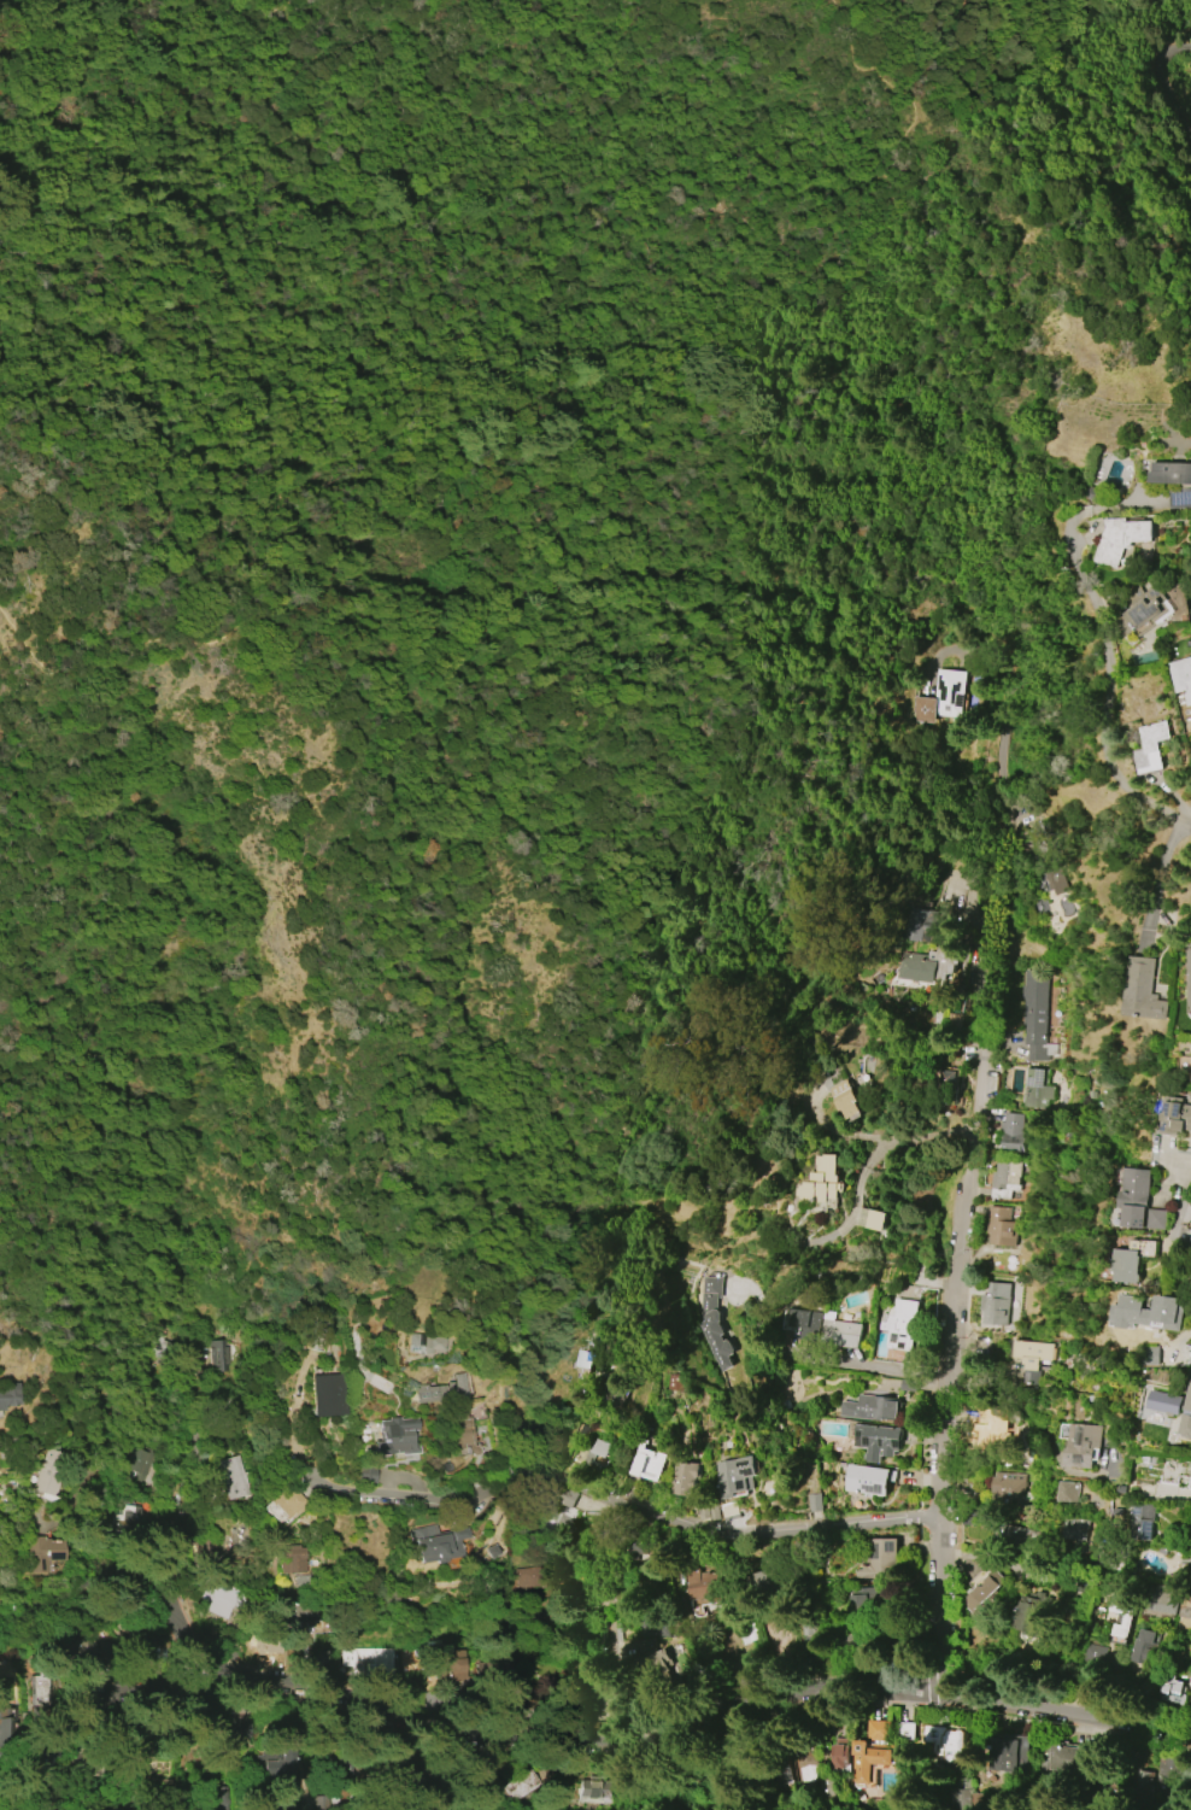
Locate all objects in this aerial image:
road: (1114, 42)
road: (1157, 93)
road: (887, 335)
road: (198, 394)
building: (1174, 480)
building: (1095, 493)
building: (1123, 539)
building: (1144, 609)
road: (1105, 646)
building: (1181, 679)
building: (939, 697)
building: (1151, 746)
road: (999, 756)
road: (1187, 820)
building: (1043, 855)
road: (1161, 877)
building: (929, 961)
building: (1189, 979)
building: (1143, 989)
building: (1034, 1017)
building: (1186, 1062)
building: (1035, 1088)
building: (945, 1090)
building: (850, 1100)
building: (1175, 1117)
building: (1013, 1134)
road: (880, 1149)
road: (1179, 1165)
building: (1008, 1179)
building: (823, 1184)
building: (1134, 1197)
road: (1181, 1211)
building: (873, 1219)
building: (1003, 1228)
building: (1189, 1246)
building: (1132, 1260)
building: (997, 1307)
road: (951, 1311)
building: (1167, 1312)
building: (805, 1320)
building: (904, 1320)
building: (717, 1324)
building: (844, 1334)
building: (435, 1345)
building: (162, 1347)
building: (1150, 1355)
building: (585, 1360)
building: (1037, 1361)
road: (866, 1369)
building: (908, 1384)
building: (441, 1390)
building: (616, 1392)
building: (327, 1394)
building: (10, 1395)
building: (875, 1410)
building: (1187, 1419)
building: (521, 1427)
building: (463, 1433)
building: (992, 1434)
building: (397, 1436)
building: (880, 1443)
building: (1084, 1446)
building: (141, 1462)
building: (599, 1462)
building: (650, 1466)
building: (368, 1474)
building: (47, 1476)
building: (237, 1476)
building: (739, 1478)
road: (178, 1480)
building: (687, 1481)
building: (873, 1482)
building: (1008, 1488)
building: (1069, 1490)
building: (814, 1503)
building: (284, 1504)
building: (565, 1505)
road: (588, 1505)
building: (134, 1518)
building: (1143, 1522)
building: (1079, 1531)
building: (1016, 1537)
building: (435, 1542)
building: (640, 1548)
building: (41, 1552)
building: (209, 1557)
building: (294, 1557)
building: (880, 1559)
building: (768, 1585)
building: (705, 1586)
building: (985, 1589)
building: (218, 1599)
building: (1163, 1599)
road: (323, 1606)
road: (182, 1612)
building: (1186, 1612)
building: (1029, 1617)
building: (1127, 1617)
building: (862, 1623)
building: (650, 1624)
building: (305, 1630)
building: (1146, 1647)
building: (441, 1653)
road: (606, 1653)
building: (80, 1656)
building: (1093, 1656)
building: (377, 1659)
building: (663, 1663)
building: (500, 1675)
building: (7, 1691)
building: (39, 1691)
building: (1177, 1692)
road: (768, 1697)
building: (588, 1699)
road: (282, 1723)
building: (221, 1732)
building: (947, 1741)
building: (1009, 1756)
building: (839, 1757)
building: (873, 1757)
building: (1064, 1757)
building: (47, 1761)
building: (803, 1765)
building: (1168, 1775)
building: (1140, 1785)
building: (521, 1786)
building: (597, 1792)
building: (825, 1792)
building: (298, 1794)
road: (8, 1809)

